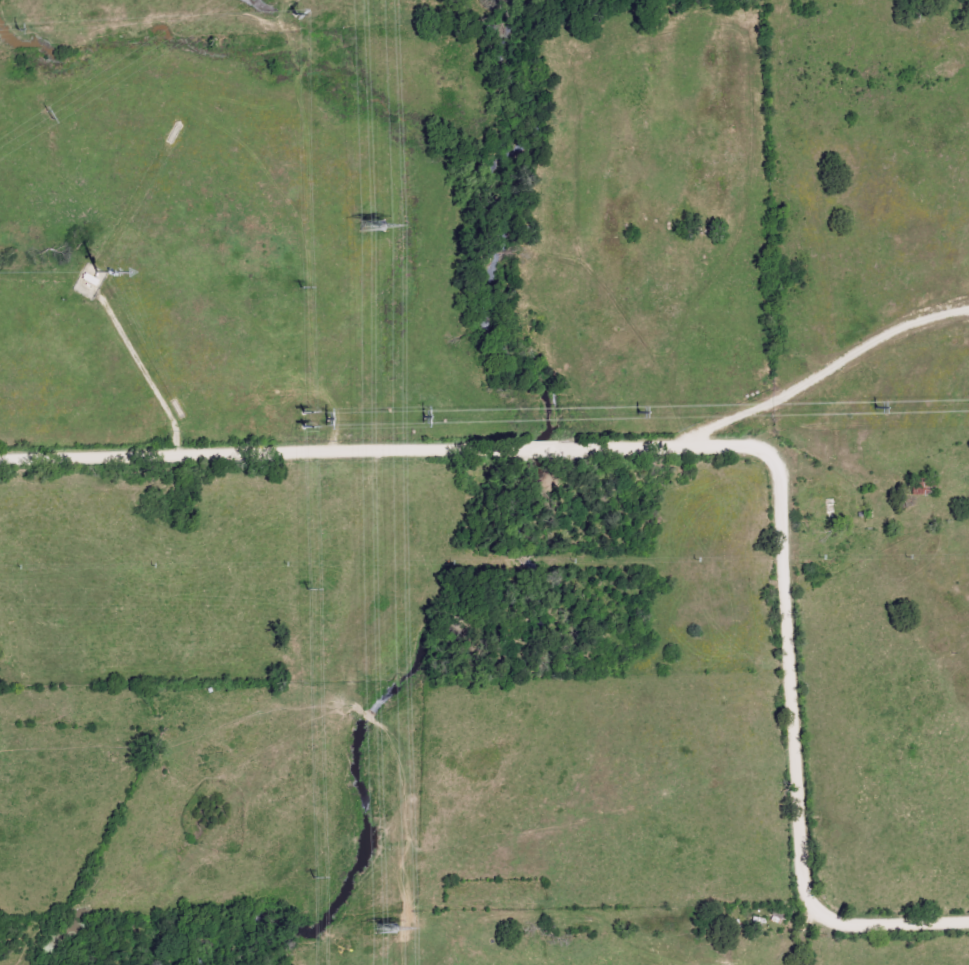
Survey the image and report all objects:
power tower: (296, 13)
power tower: (4, 33)
power tower: (48, 114)
power tower: (372, 225)
power tower: (303, 286)
road: (820, 375)
power tower: (878, 407)
power tower: (305, 412)
power tower: (641, 412)
power tower: (421, 416)
power tower: (327, 420)
power tower: (305, 424)
road: (696, 448)
power tower: (305, 590)
power tower: (309, 878)
power tower: (386, 926)

